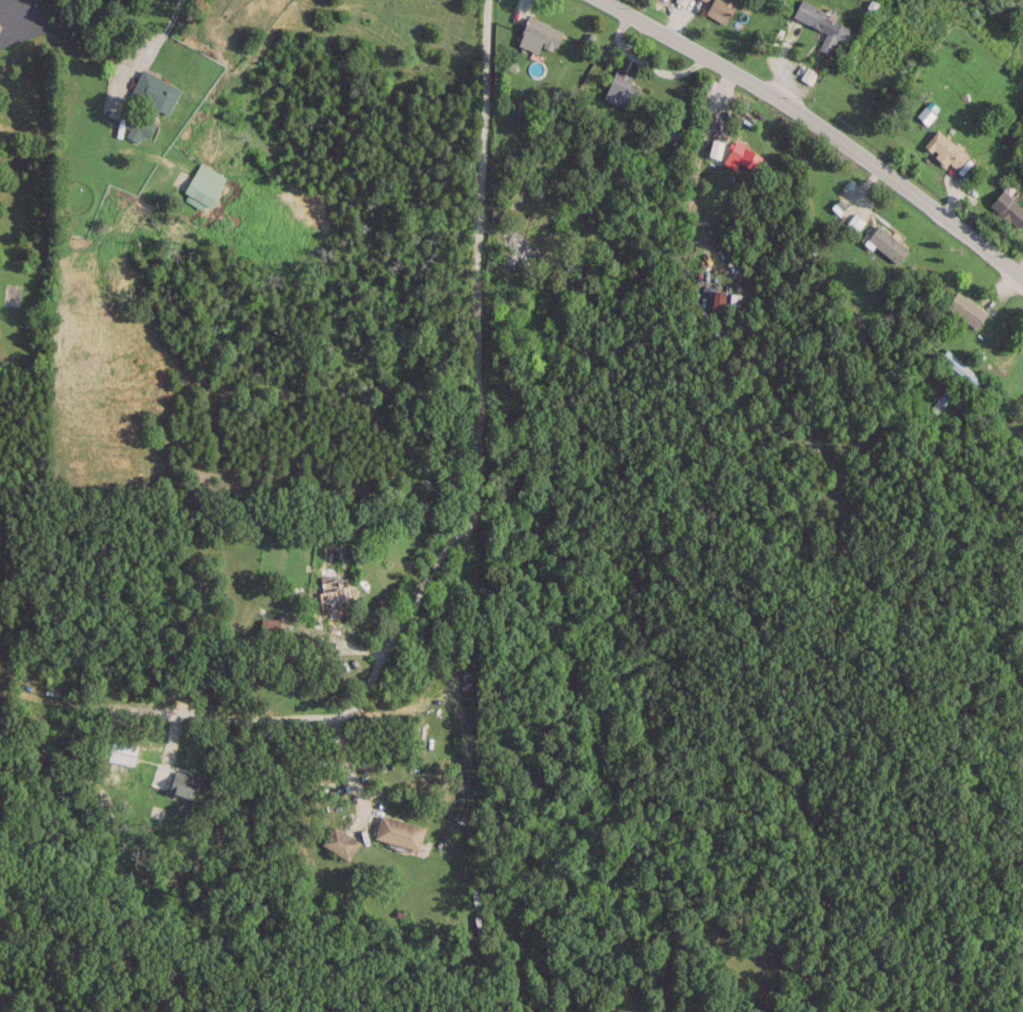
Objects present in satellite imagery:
building: (705, 0)
building: (720, 9)
road: (21, 16)
building: (822, 25)
road: (164, 29)
building: (540, 32)
building: (621, 88)
building: (153, 92)
building: (925, 113)
road: (710, 116)
building: (137, 126)
road: (821, 126)
building: (945, 149)
building: (744, 155)
building: (203, 186)
road: (602, 191)
building: (1007, 208)
building: (886, 242)
building: (514, 248)
building: (965, 308)
road: (544, 397)
road: (473, 420)
building: (328, 596)
building: (269, 627)
road: (456, 653)
road: (171, 711)
building: (121, 751)
road: (465, 766)
building: (182, 785)
building: (399, 830)
building: (339, 841)

